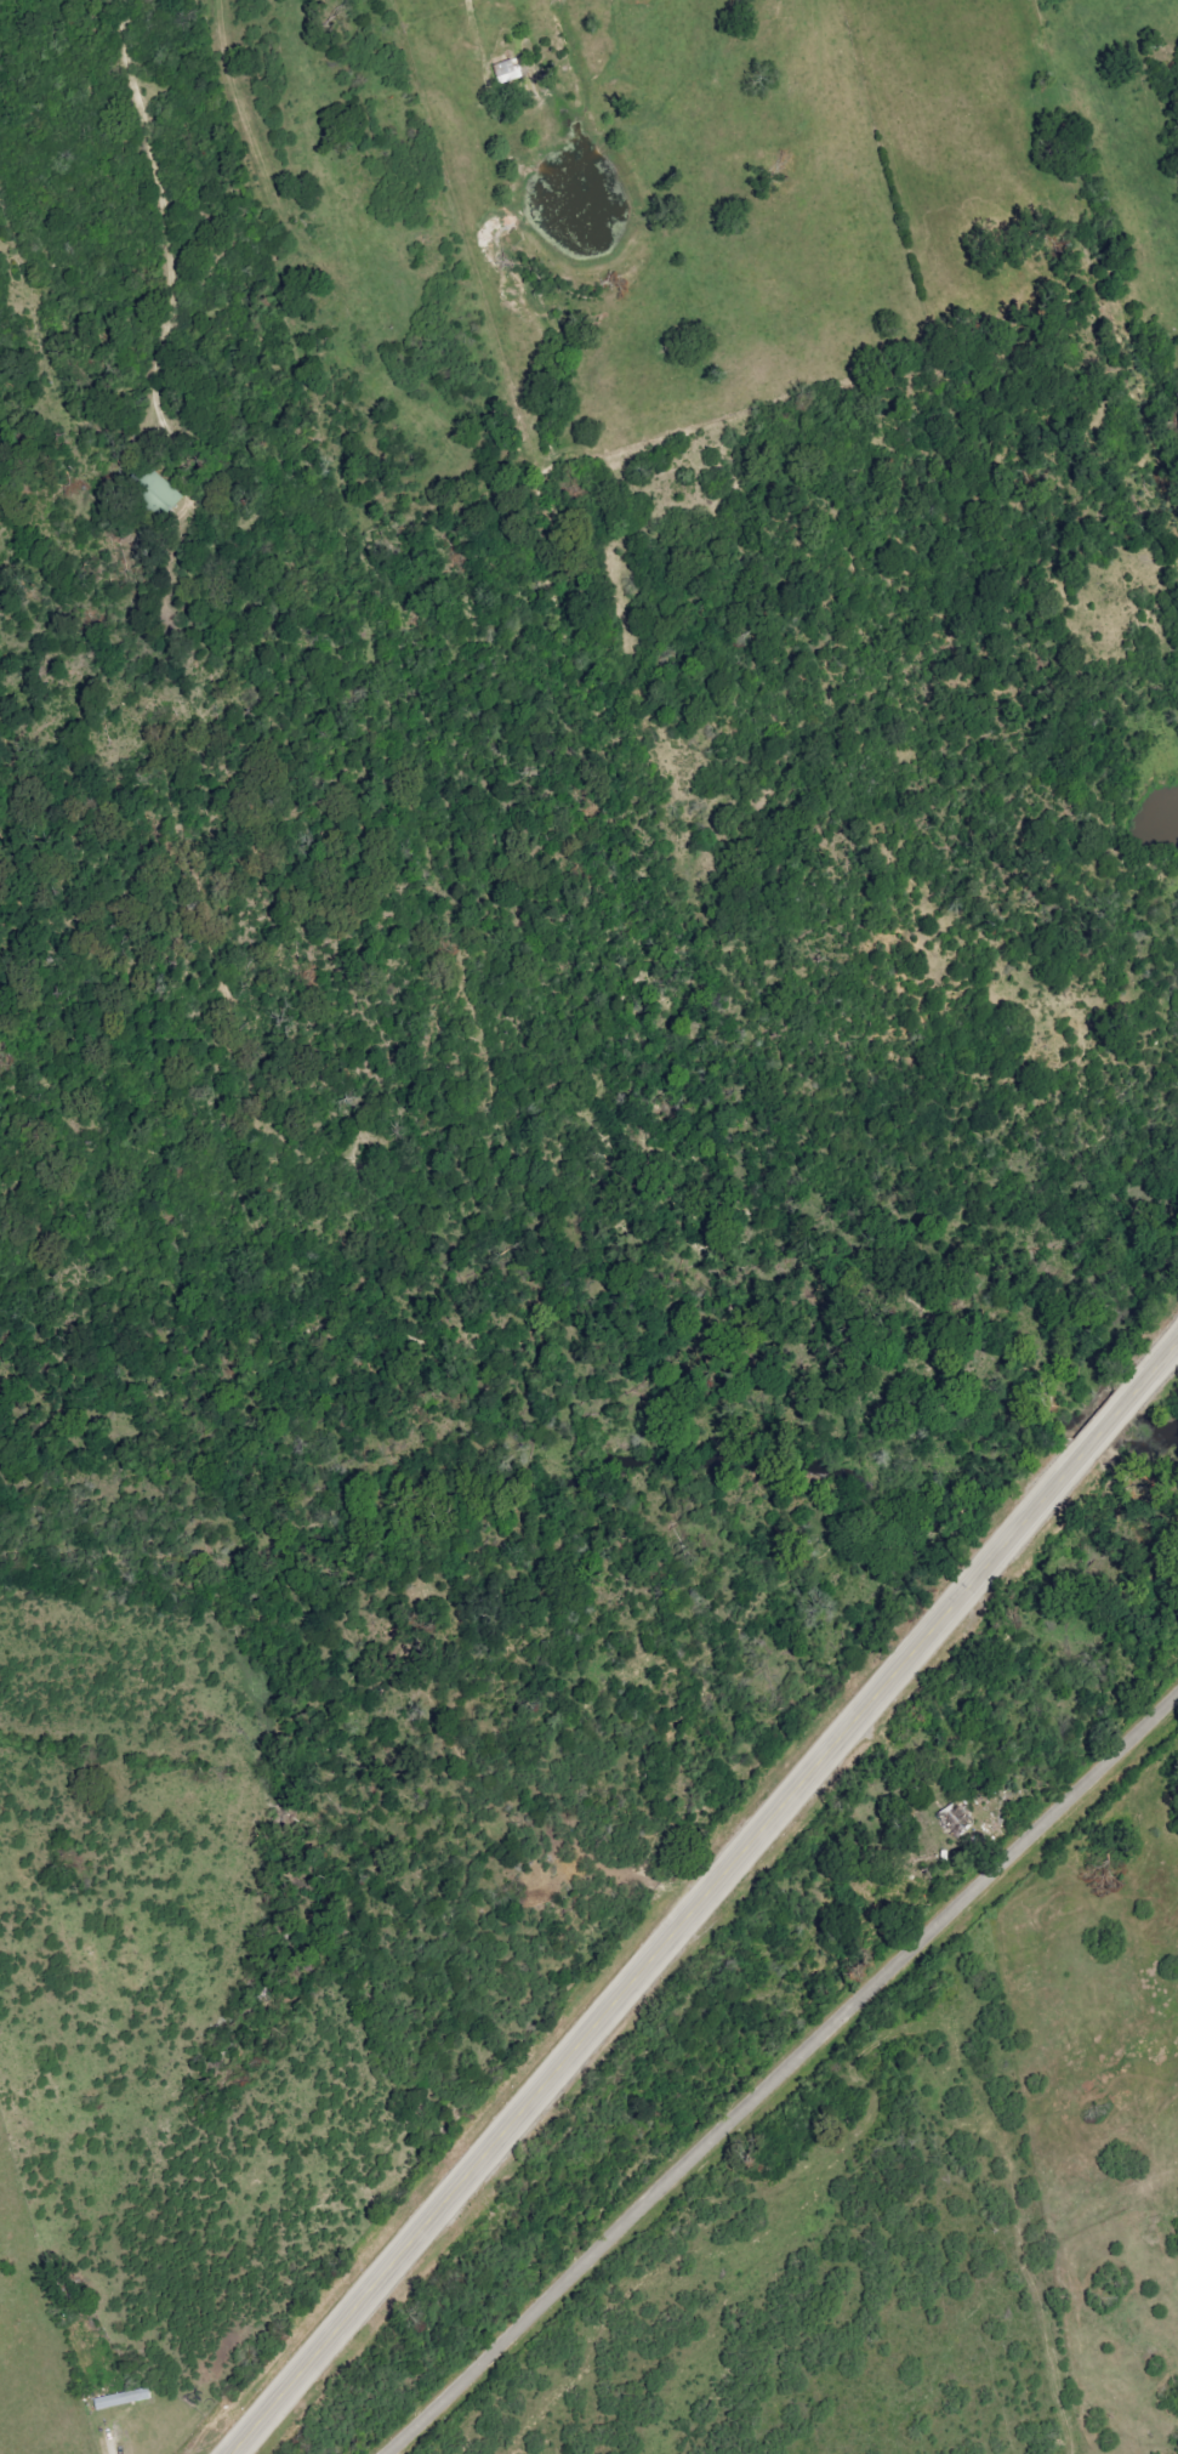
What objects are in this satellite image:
road: (166, 313)
road: (707, 1901)
road: (784, 2077)
road: (118, 2437)

